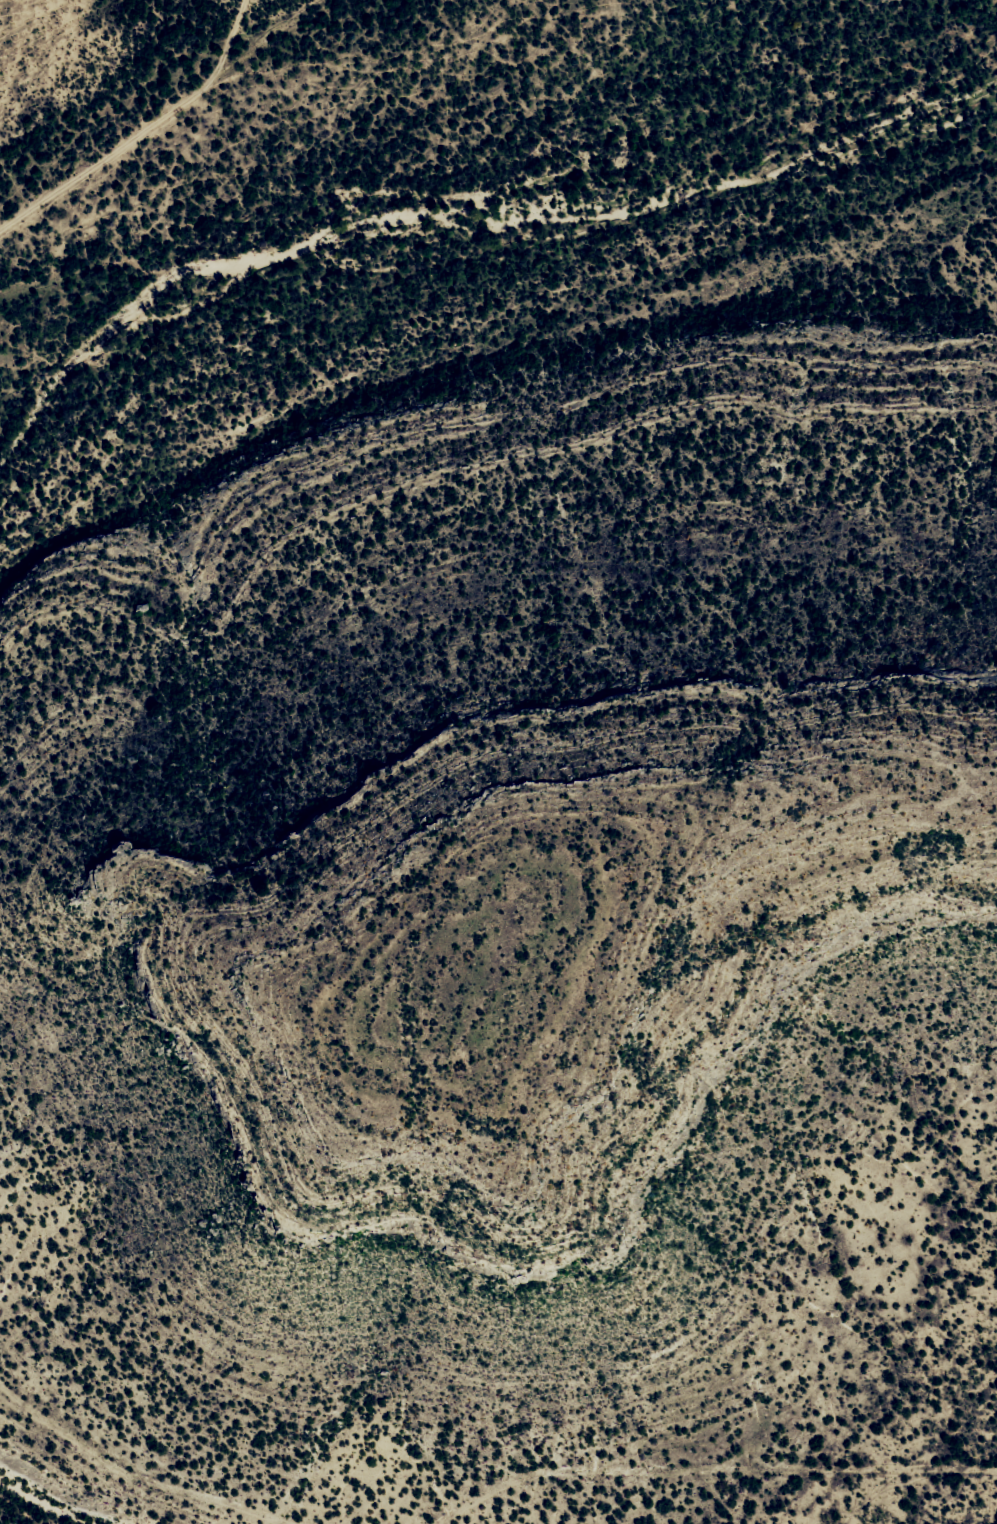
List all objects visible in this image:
road: (182, 121)

